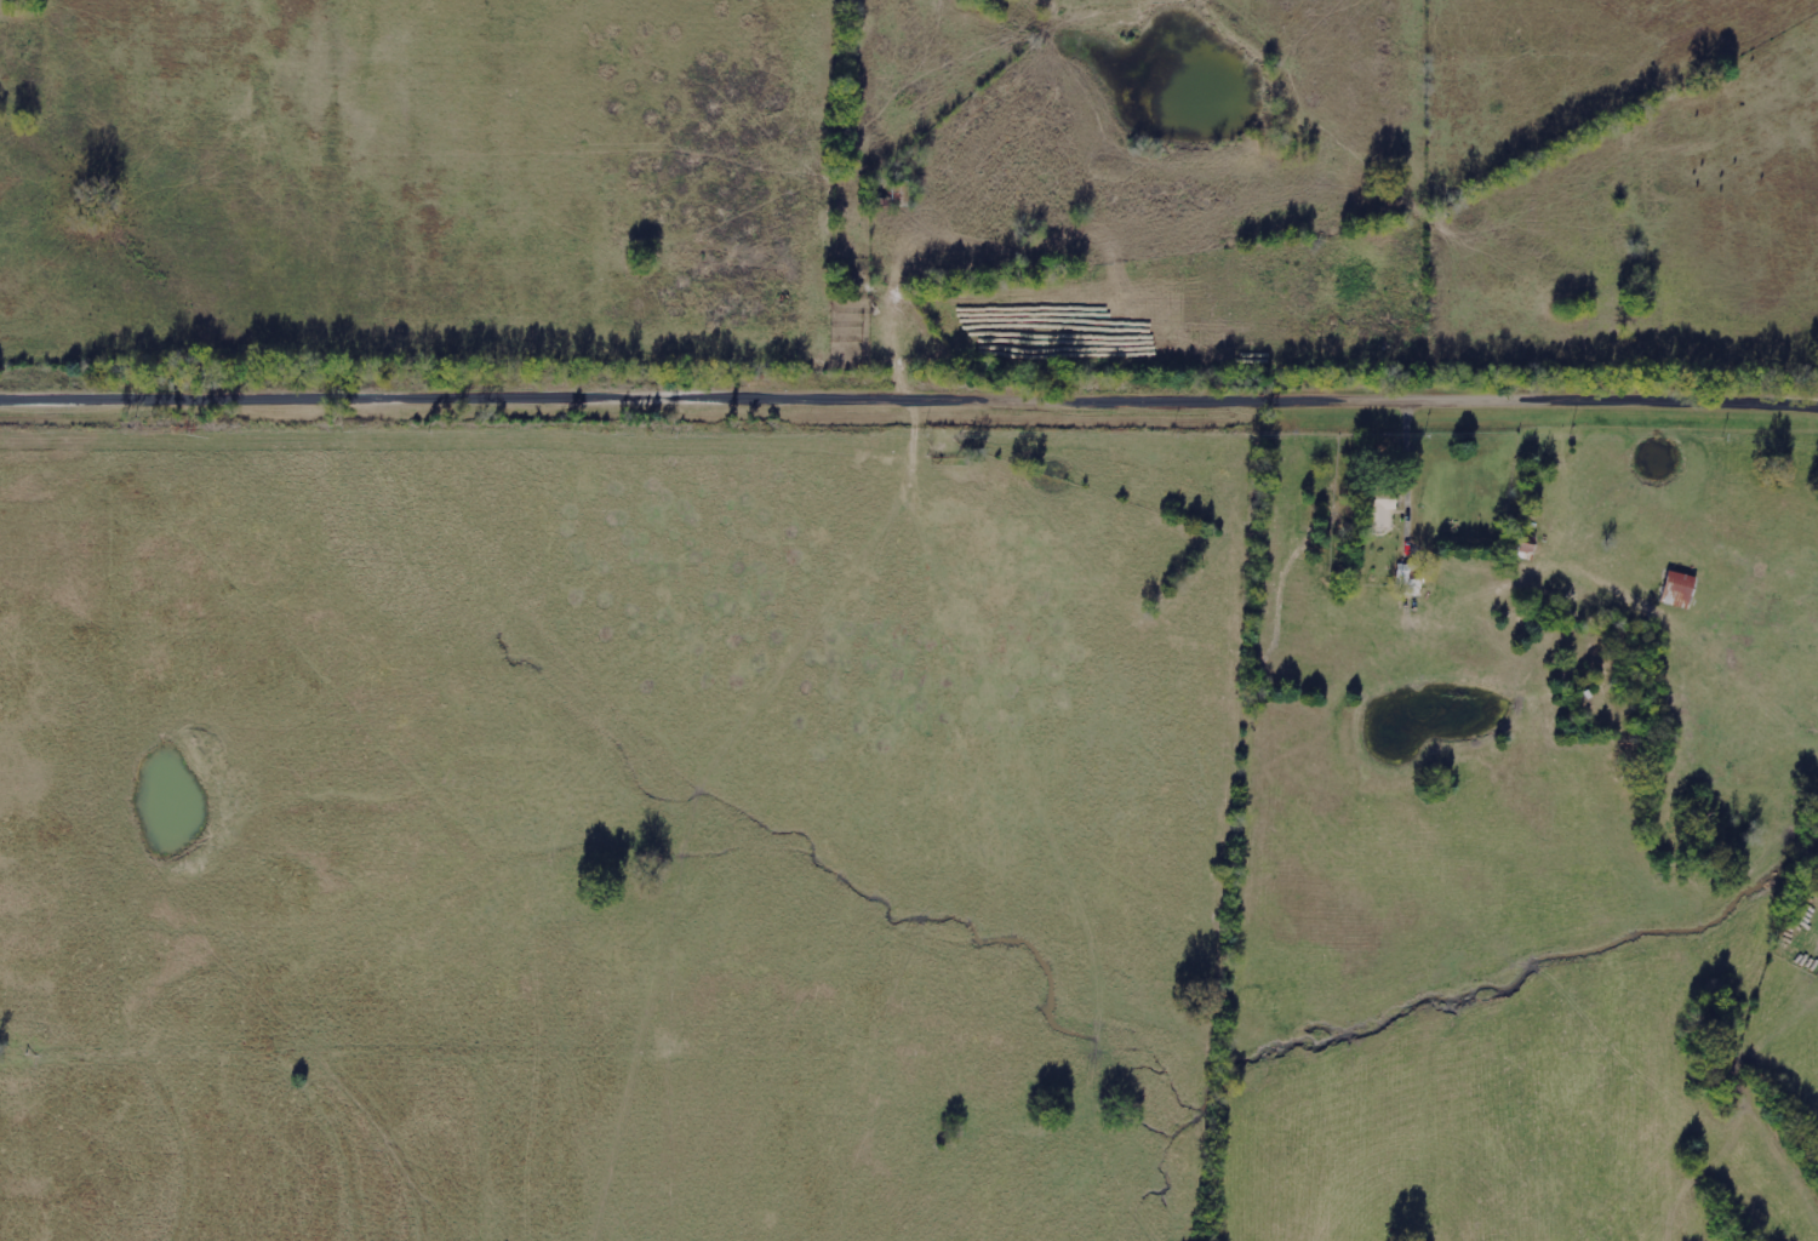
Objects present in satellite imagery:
road: (909, 402)
building: (1676, 590)

